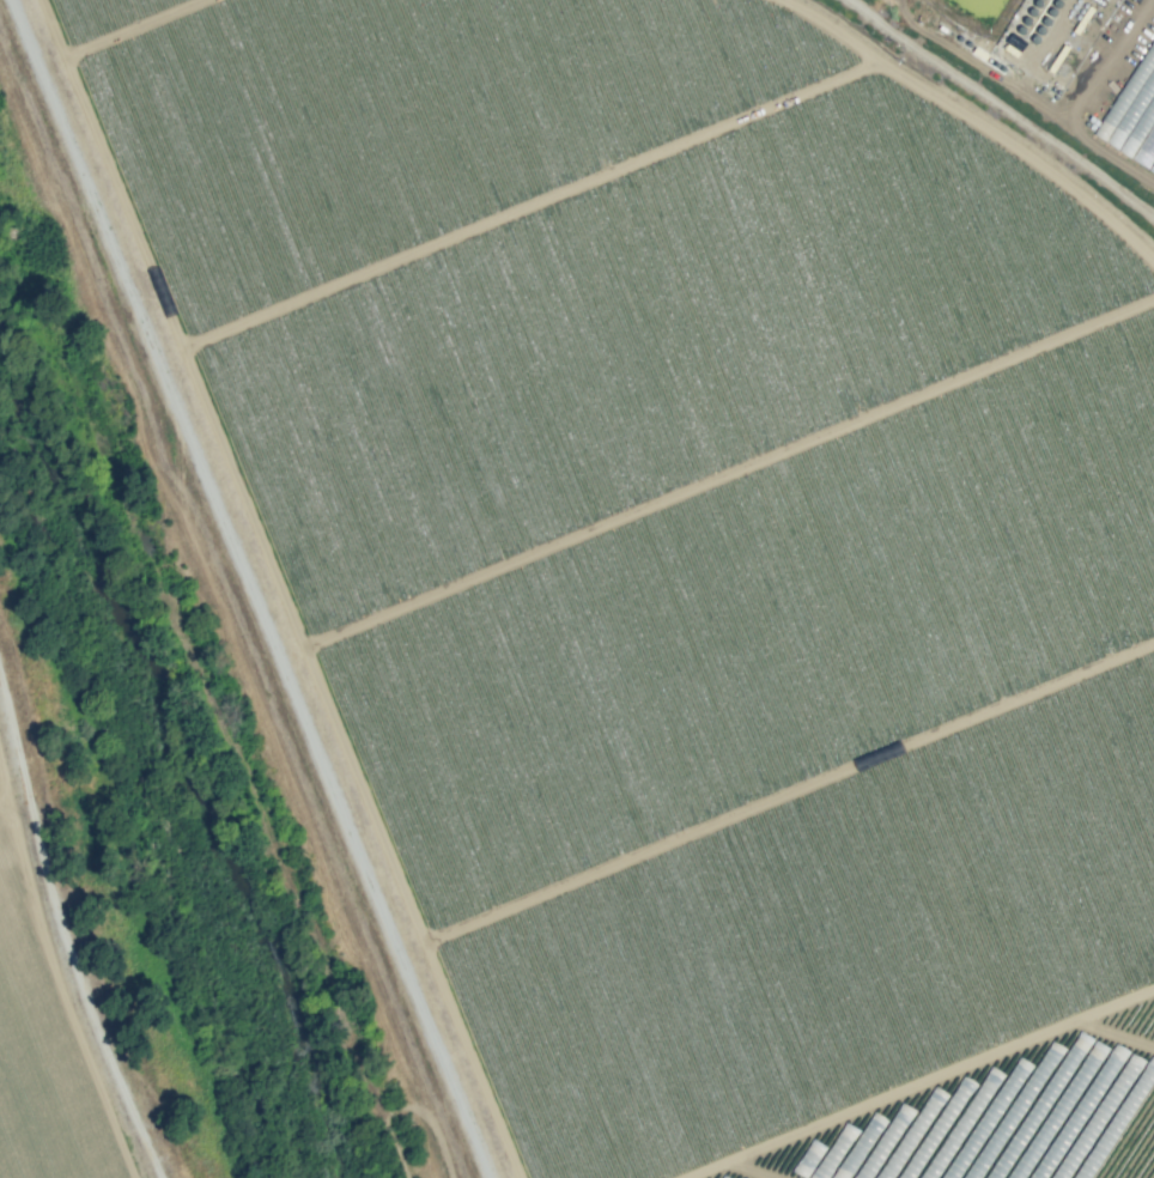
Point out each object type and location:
crop: (578, 587)
road: (248, 588)
river: (163, 753)
road: (931, 1088)
crop: (43, 1153)

